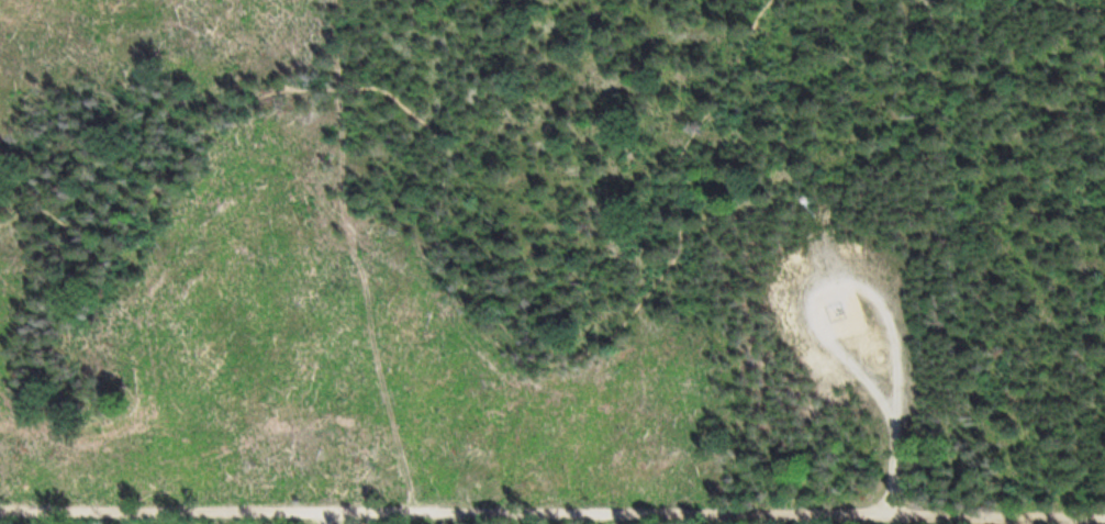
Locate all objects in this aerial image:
road: (1069, 4)
road: (449, 237)
road: (872, 288)
petroleum well: (841, 311)
road: (551, 514)
road: (327, 520)

